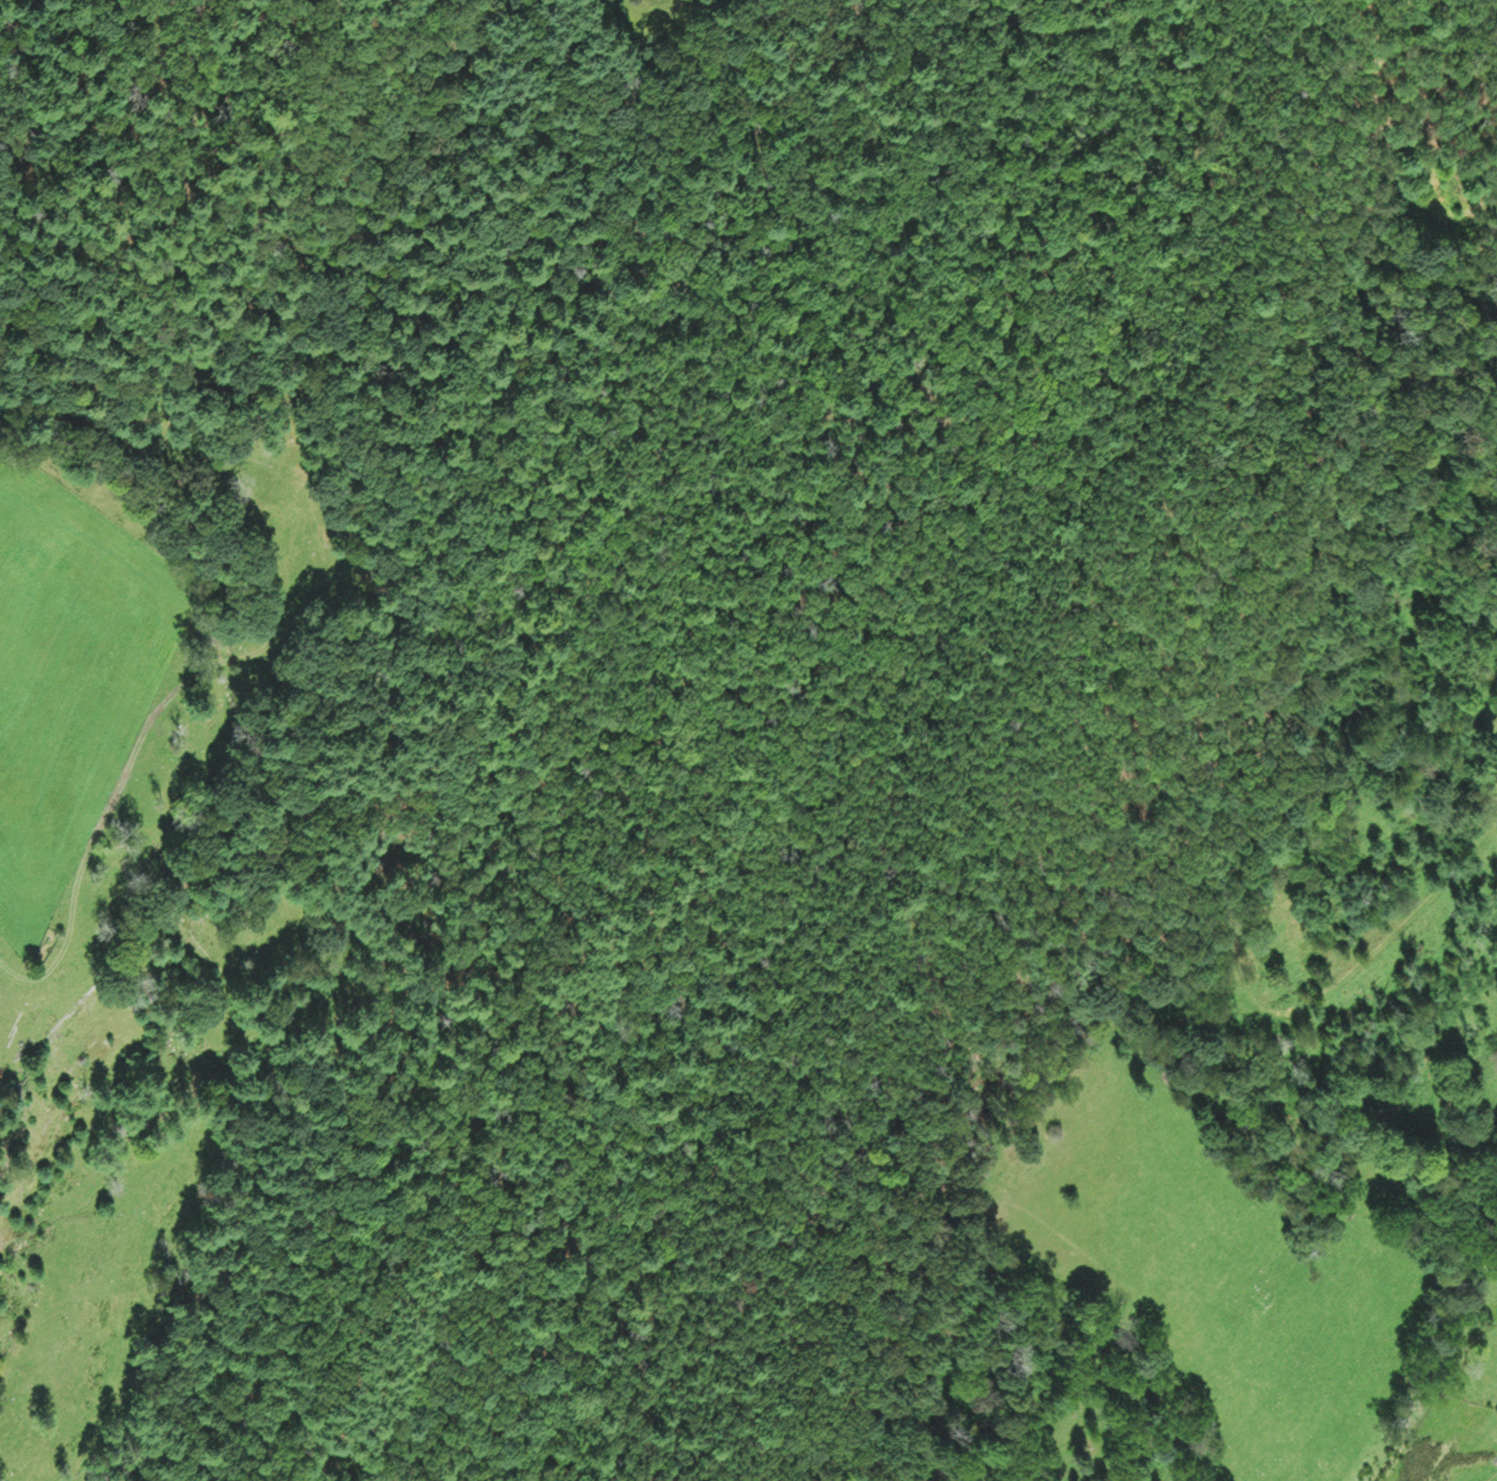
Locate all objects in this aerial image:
road: (1466, 250)
road: (1308, 996)

